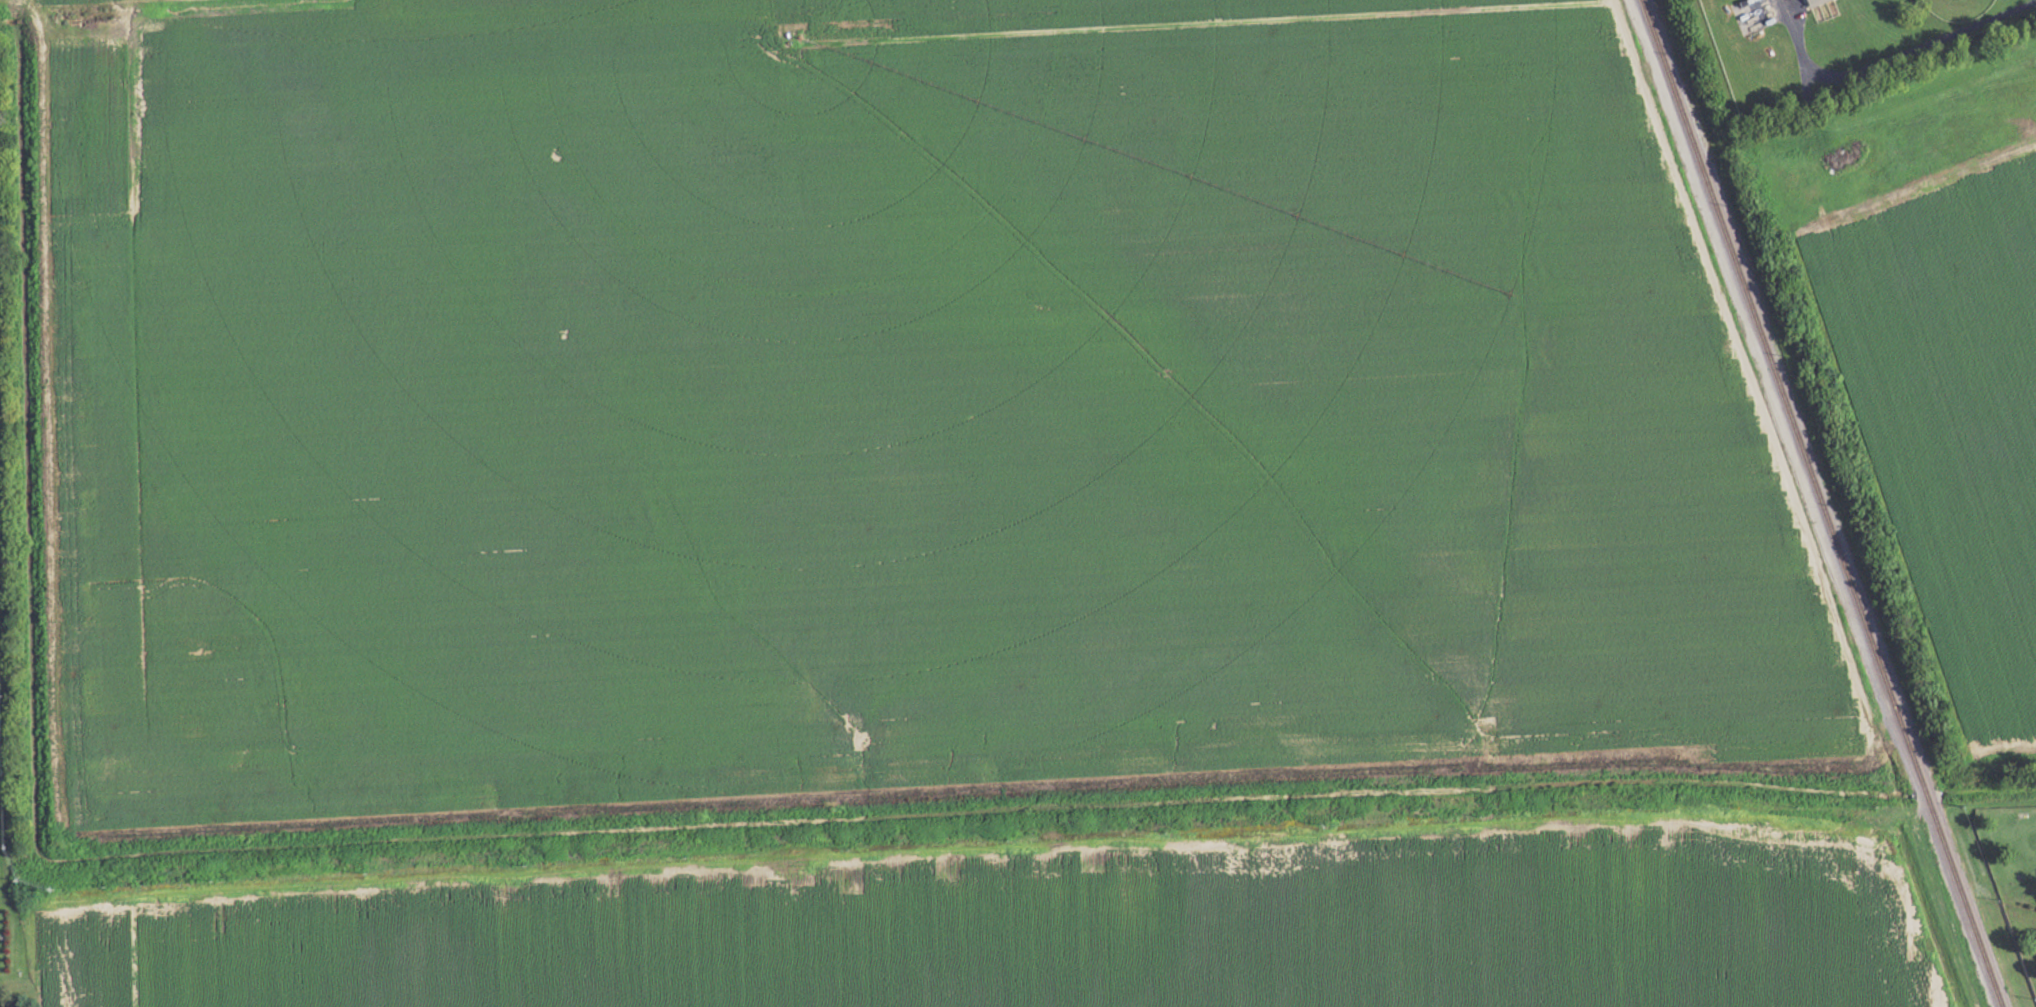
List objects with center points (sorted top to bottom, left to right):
building: (1818, 2)
railway: (1826, 503)

